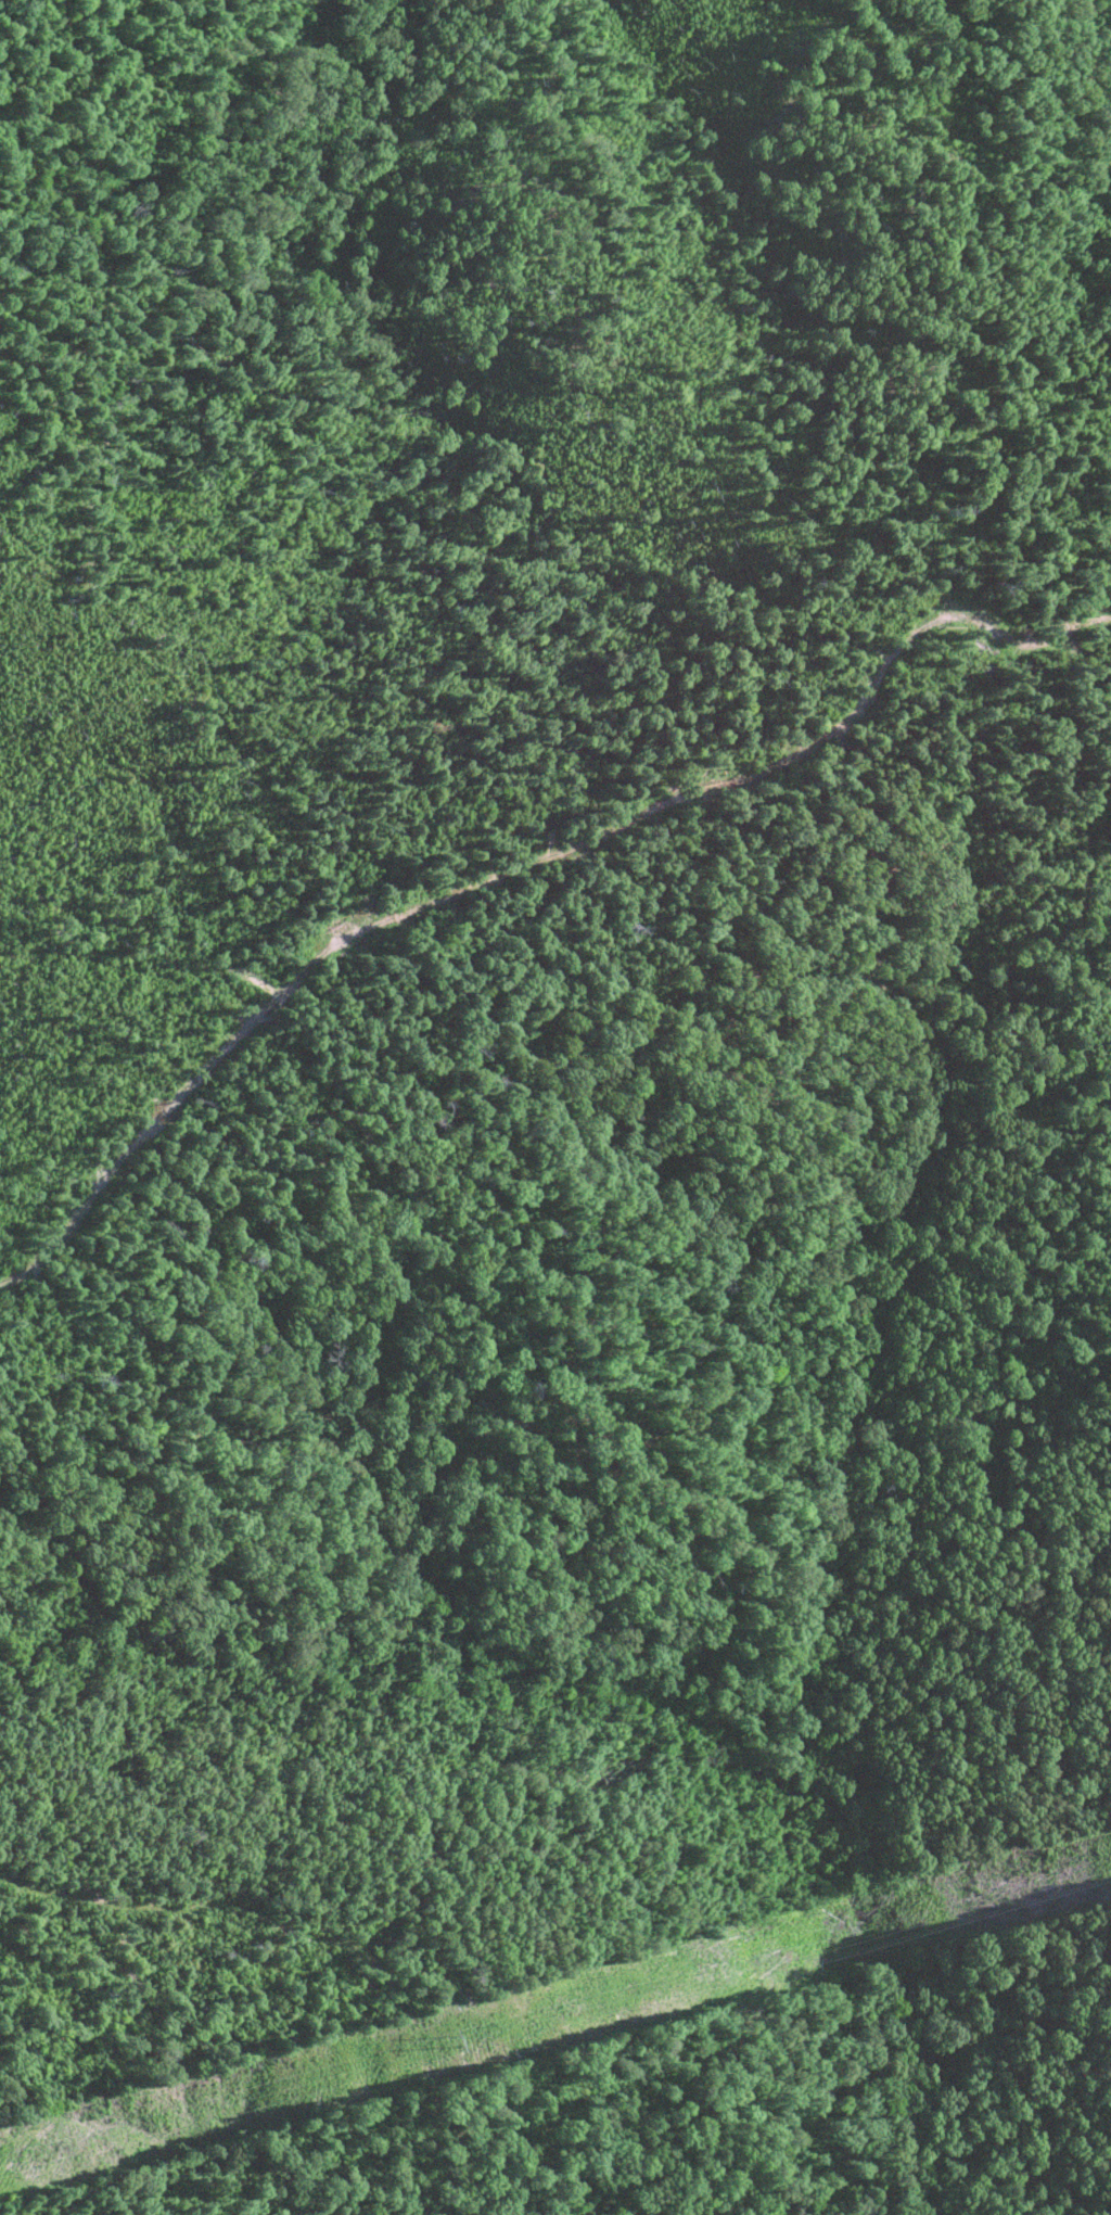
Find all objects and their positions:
power tower: (450, 2047)

